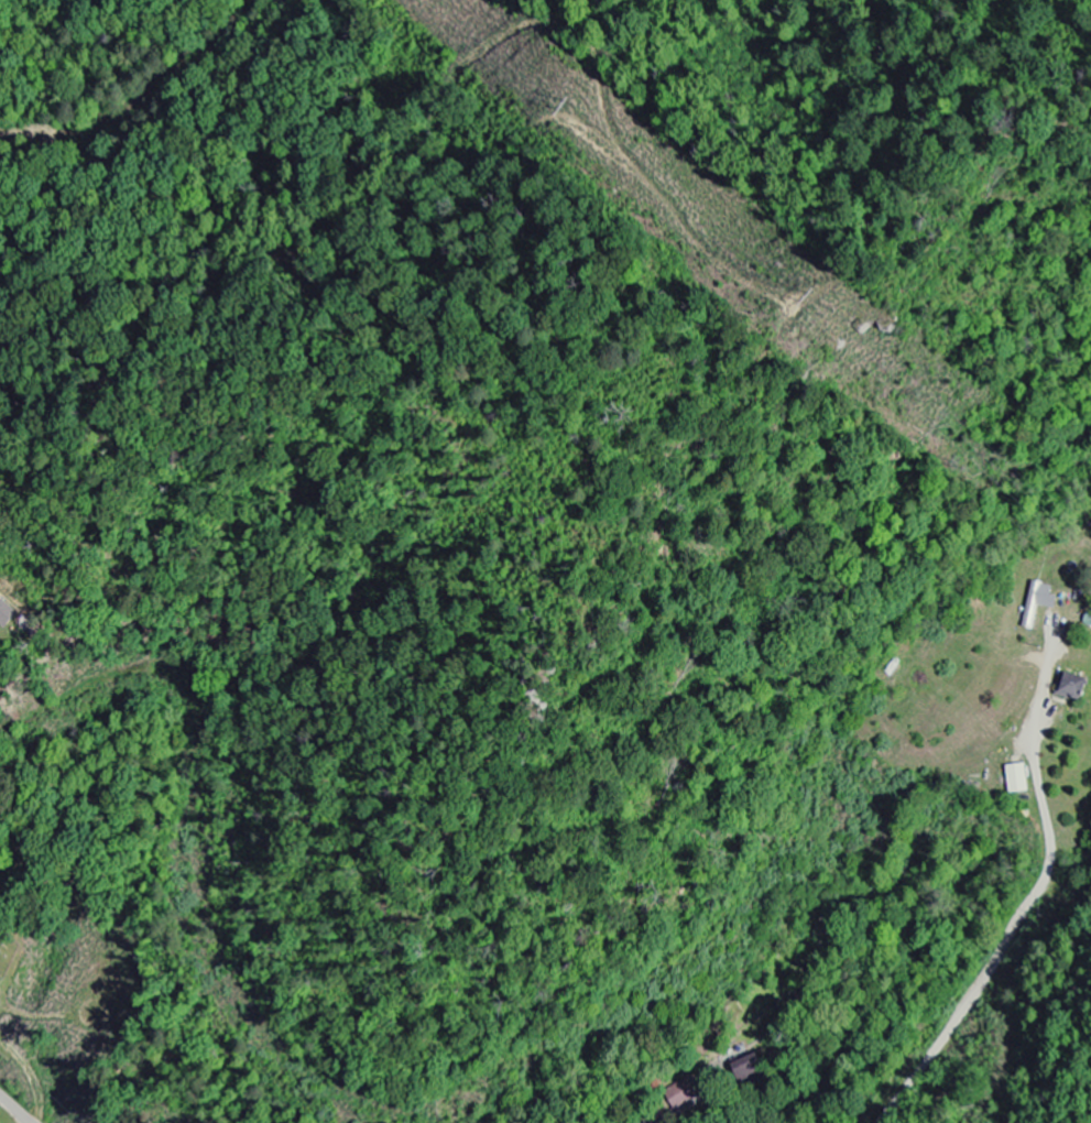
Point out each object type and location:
power tower: (565, 109)
building: (1035, 604)
building: (8, 613)
building: (1066, 687)
building: (1014, 779)
building: (746, 1069)
road: (30, 1072)
road: (15, 1109)

